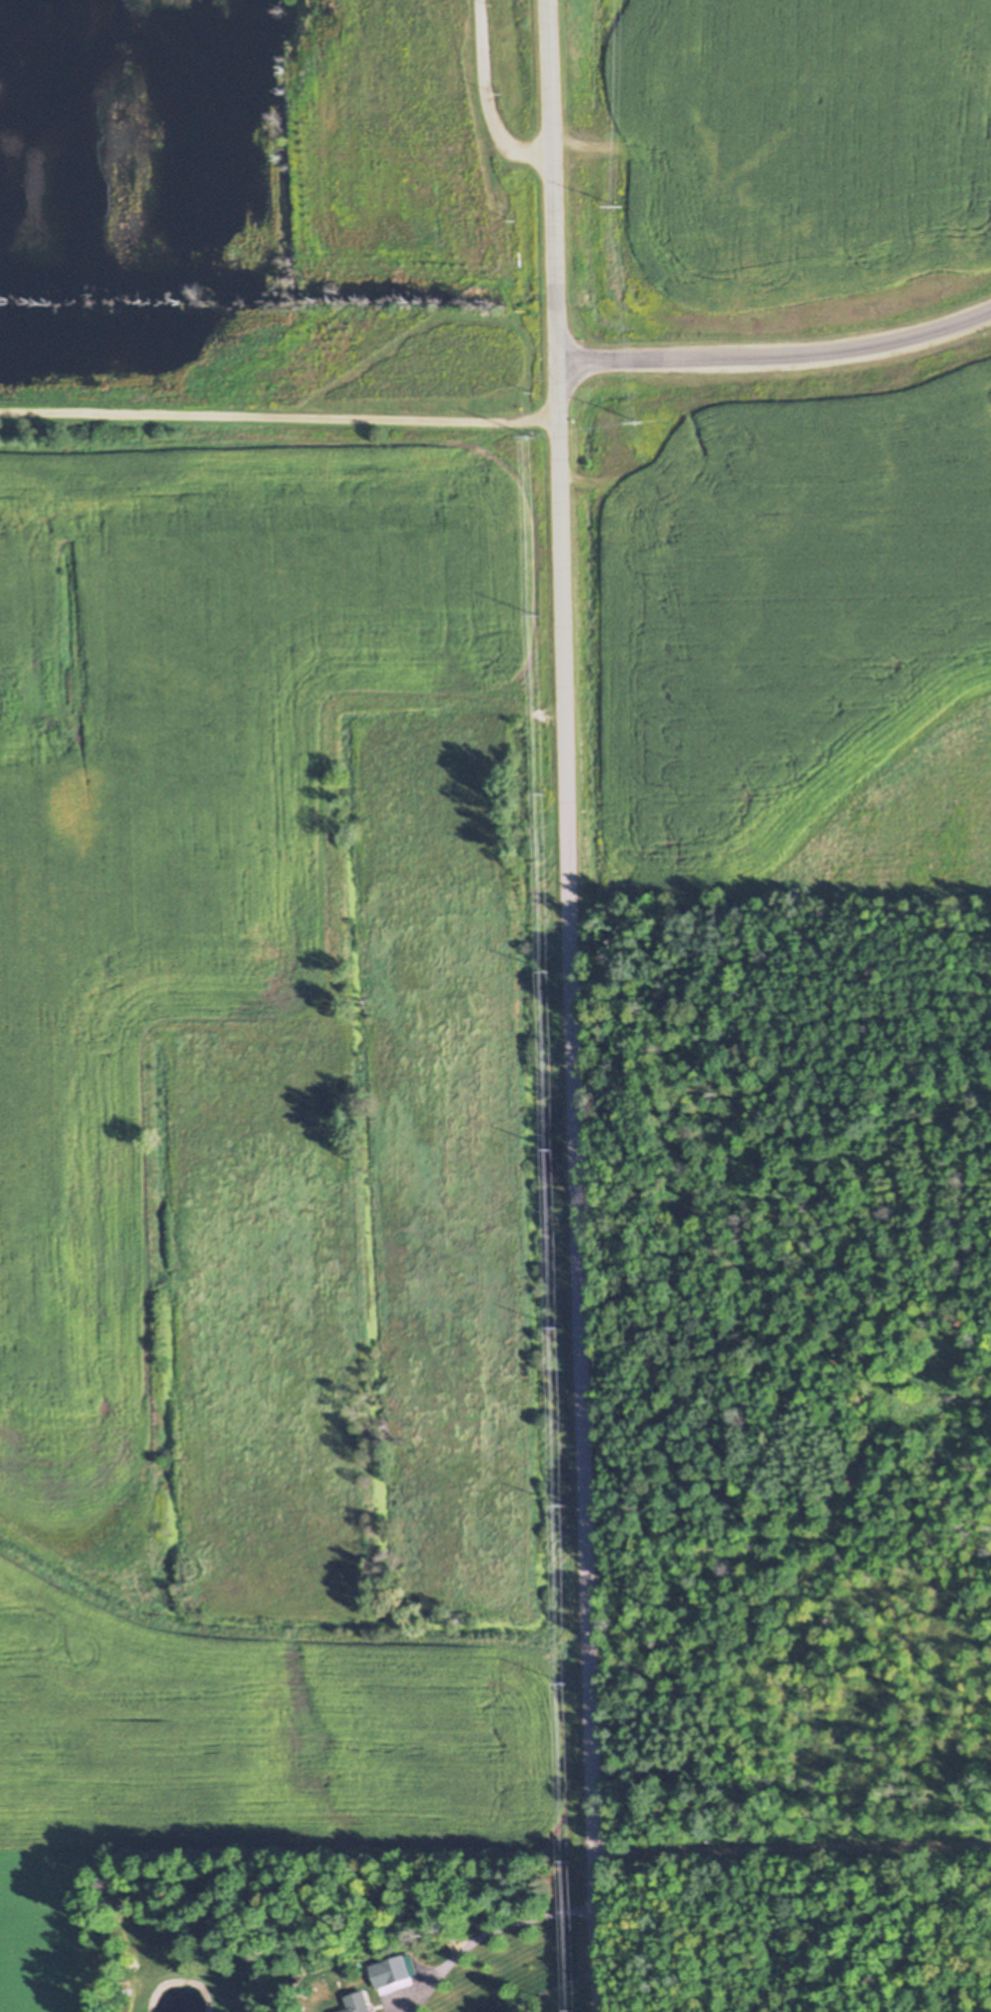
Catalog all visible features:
road: (487, 97)
road: (776, 353)
road: (279, 413)
road: (573, 1006)
road: (74, 1037)
road: (793, 1845)
road: (502, 1923)
building: (400, 1968)
building: (358, 2003)

